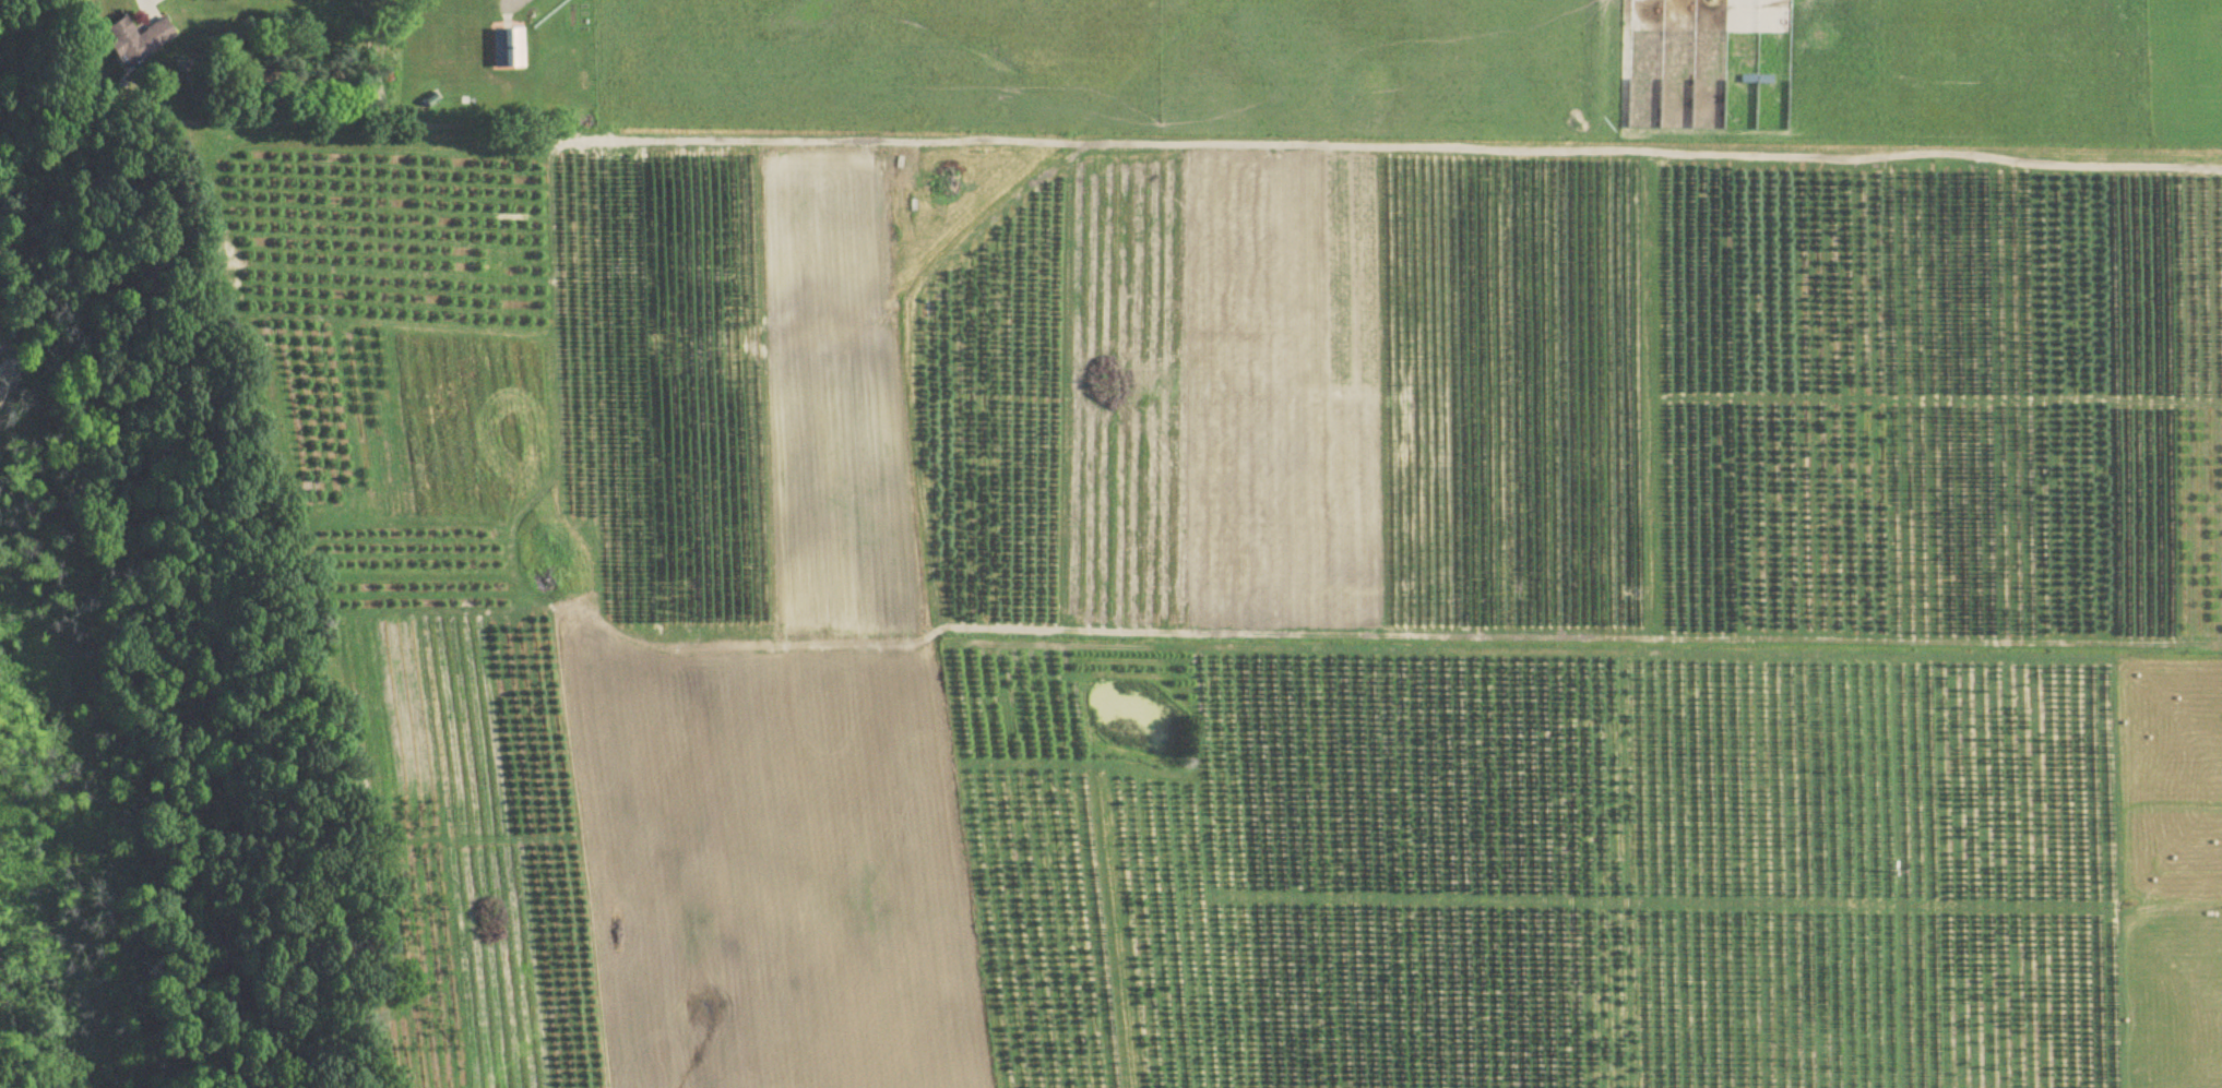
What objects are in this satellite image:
building: (136, 41)
building: (508, 49)
crop: (1256, 536)

